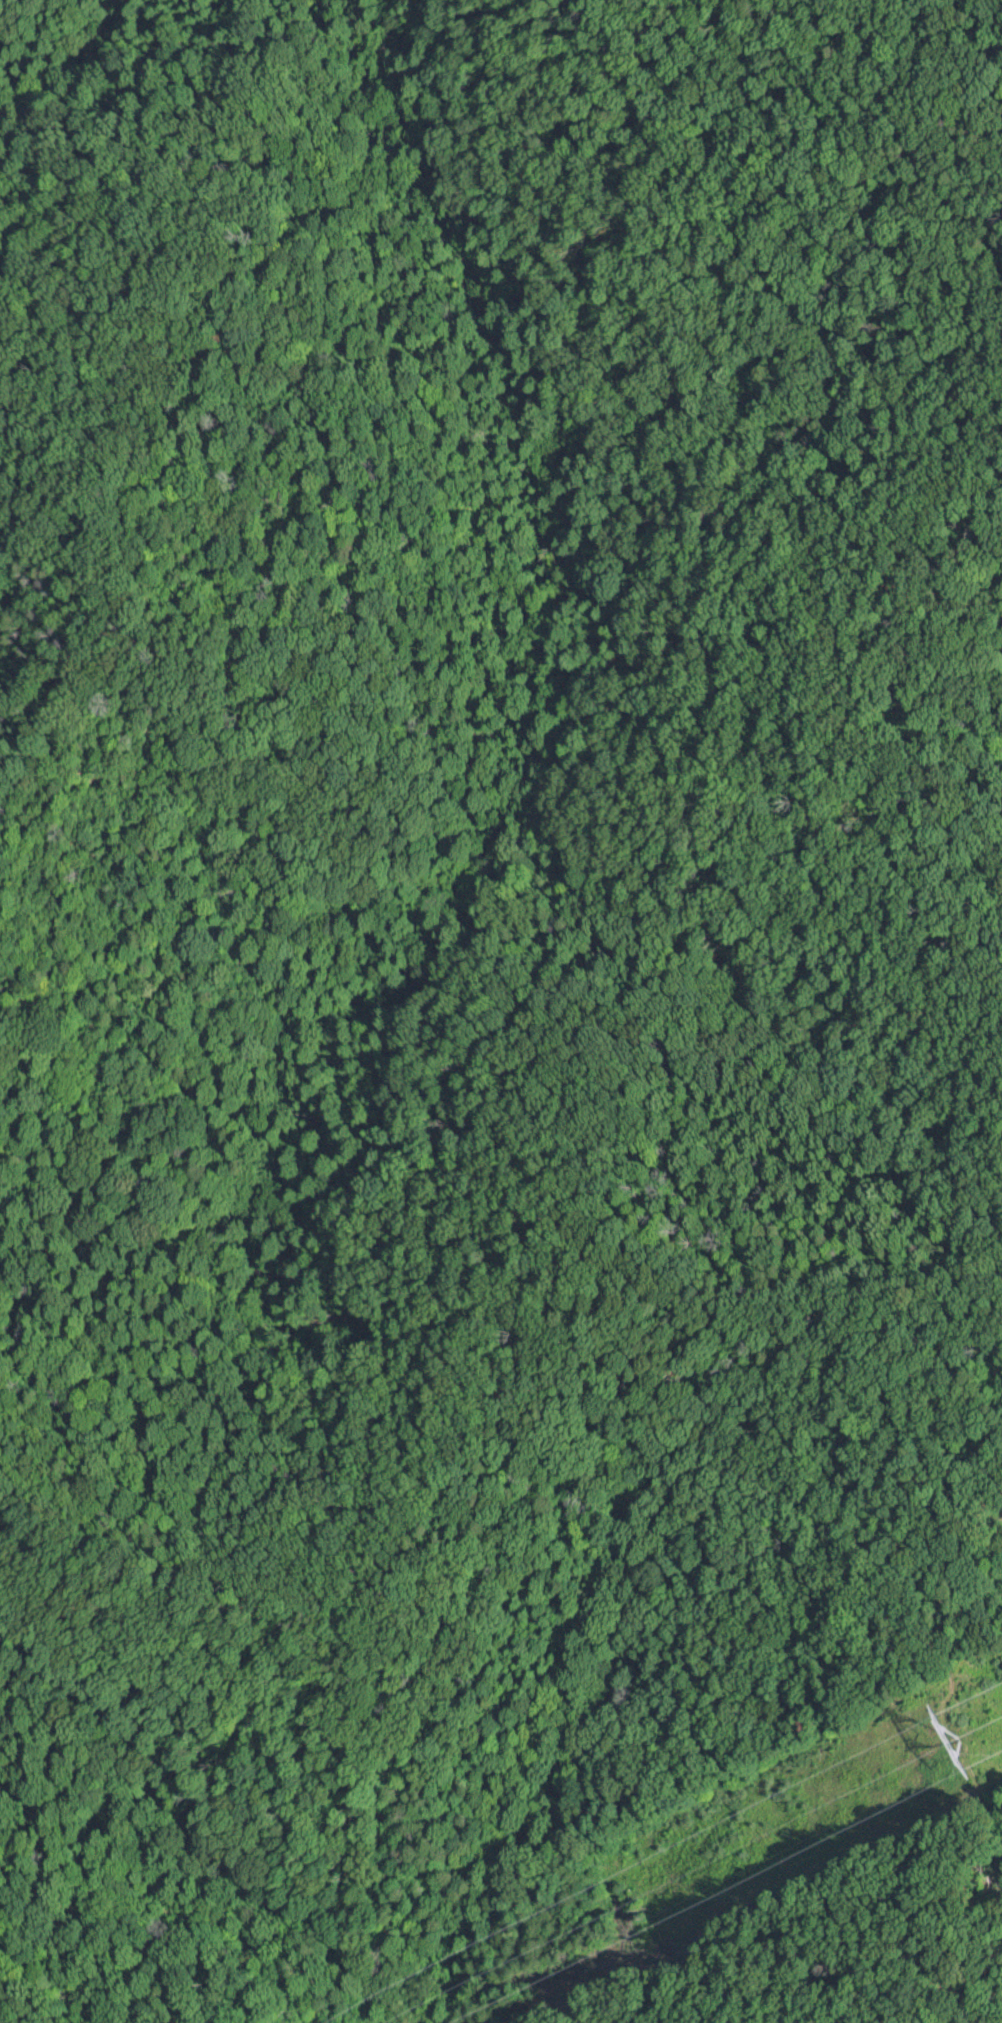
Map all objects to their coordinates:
power tower: (959, 1739)

